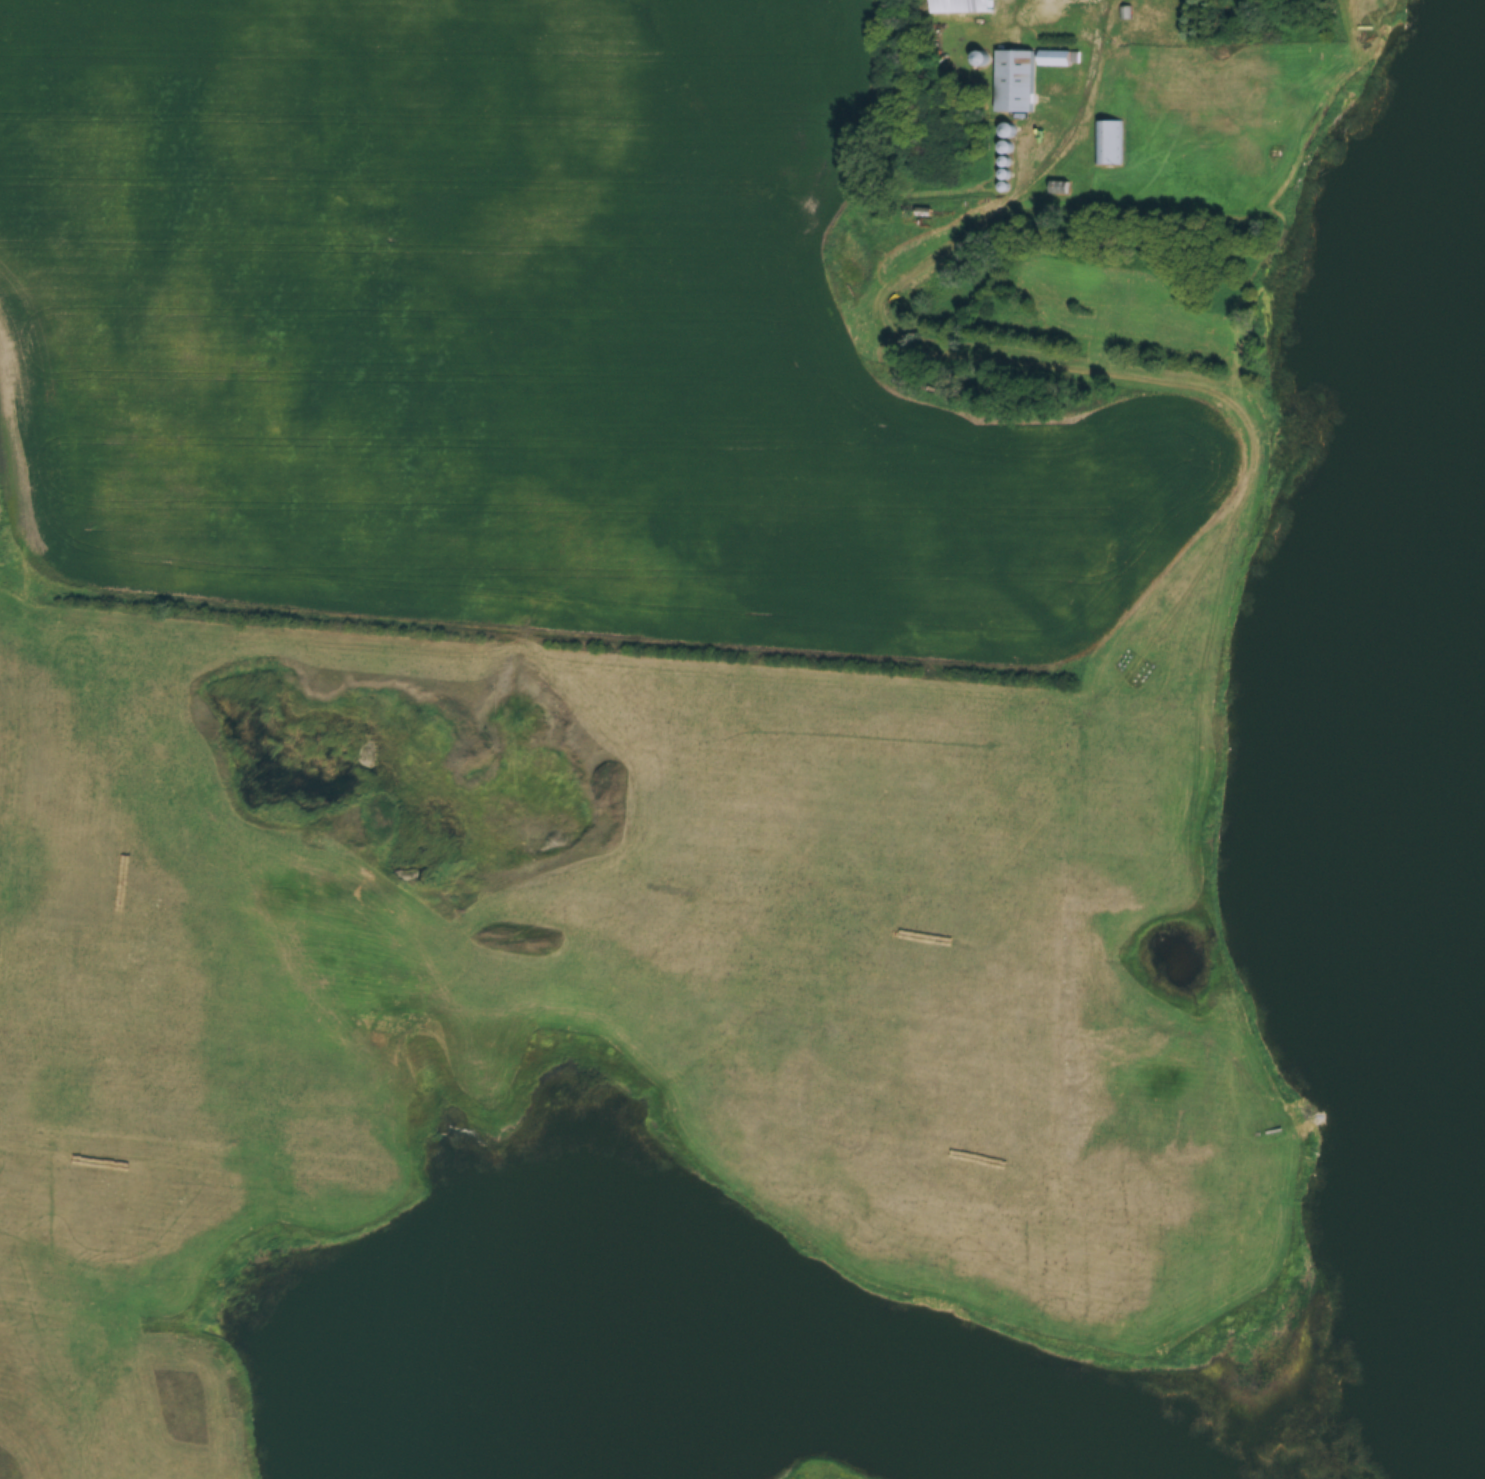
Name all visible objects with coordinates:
building: (961, 6)
building: (1014, 82)
building: (1109, 142)
building: (1058, 187)

